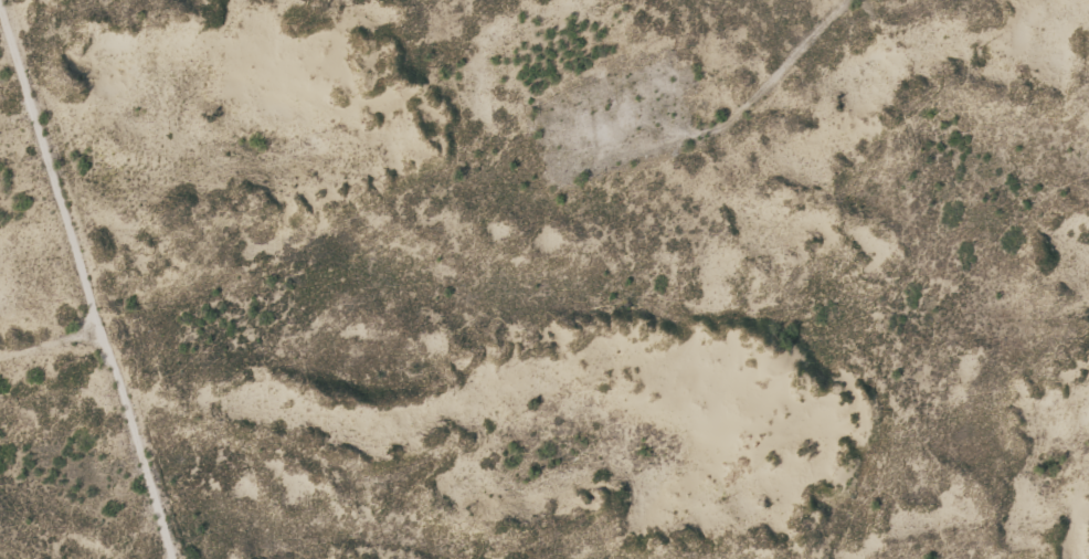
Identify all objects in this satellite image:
road: (97, 279)
road: (57, 354)

